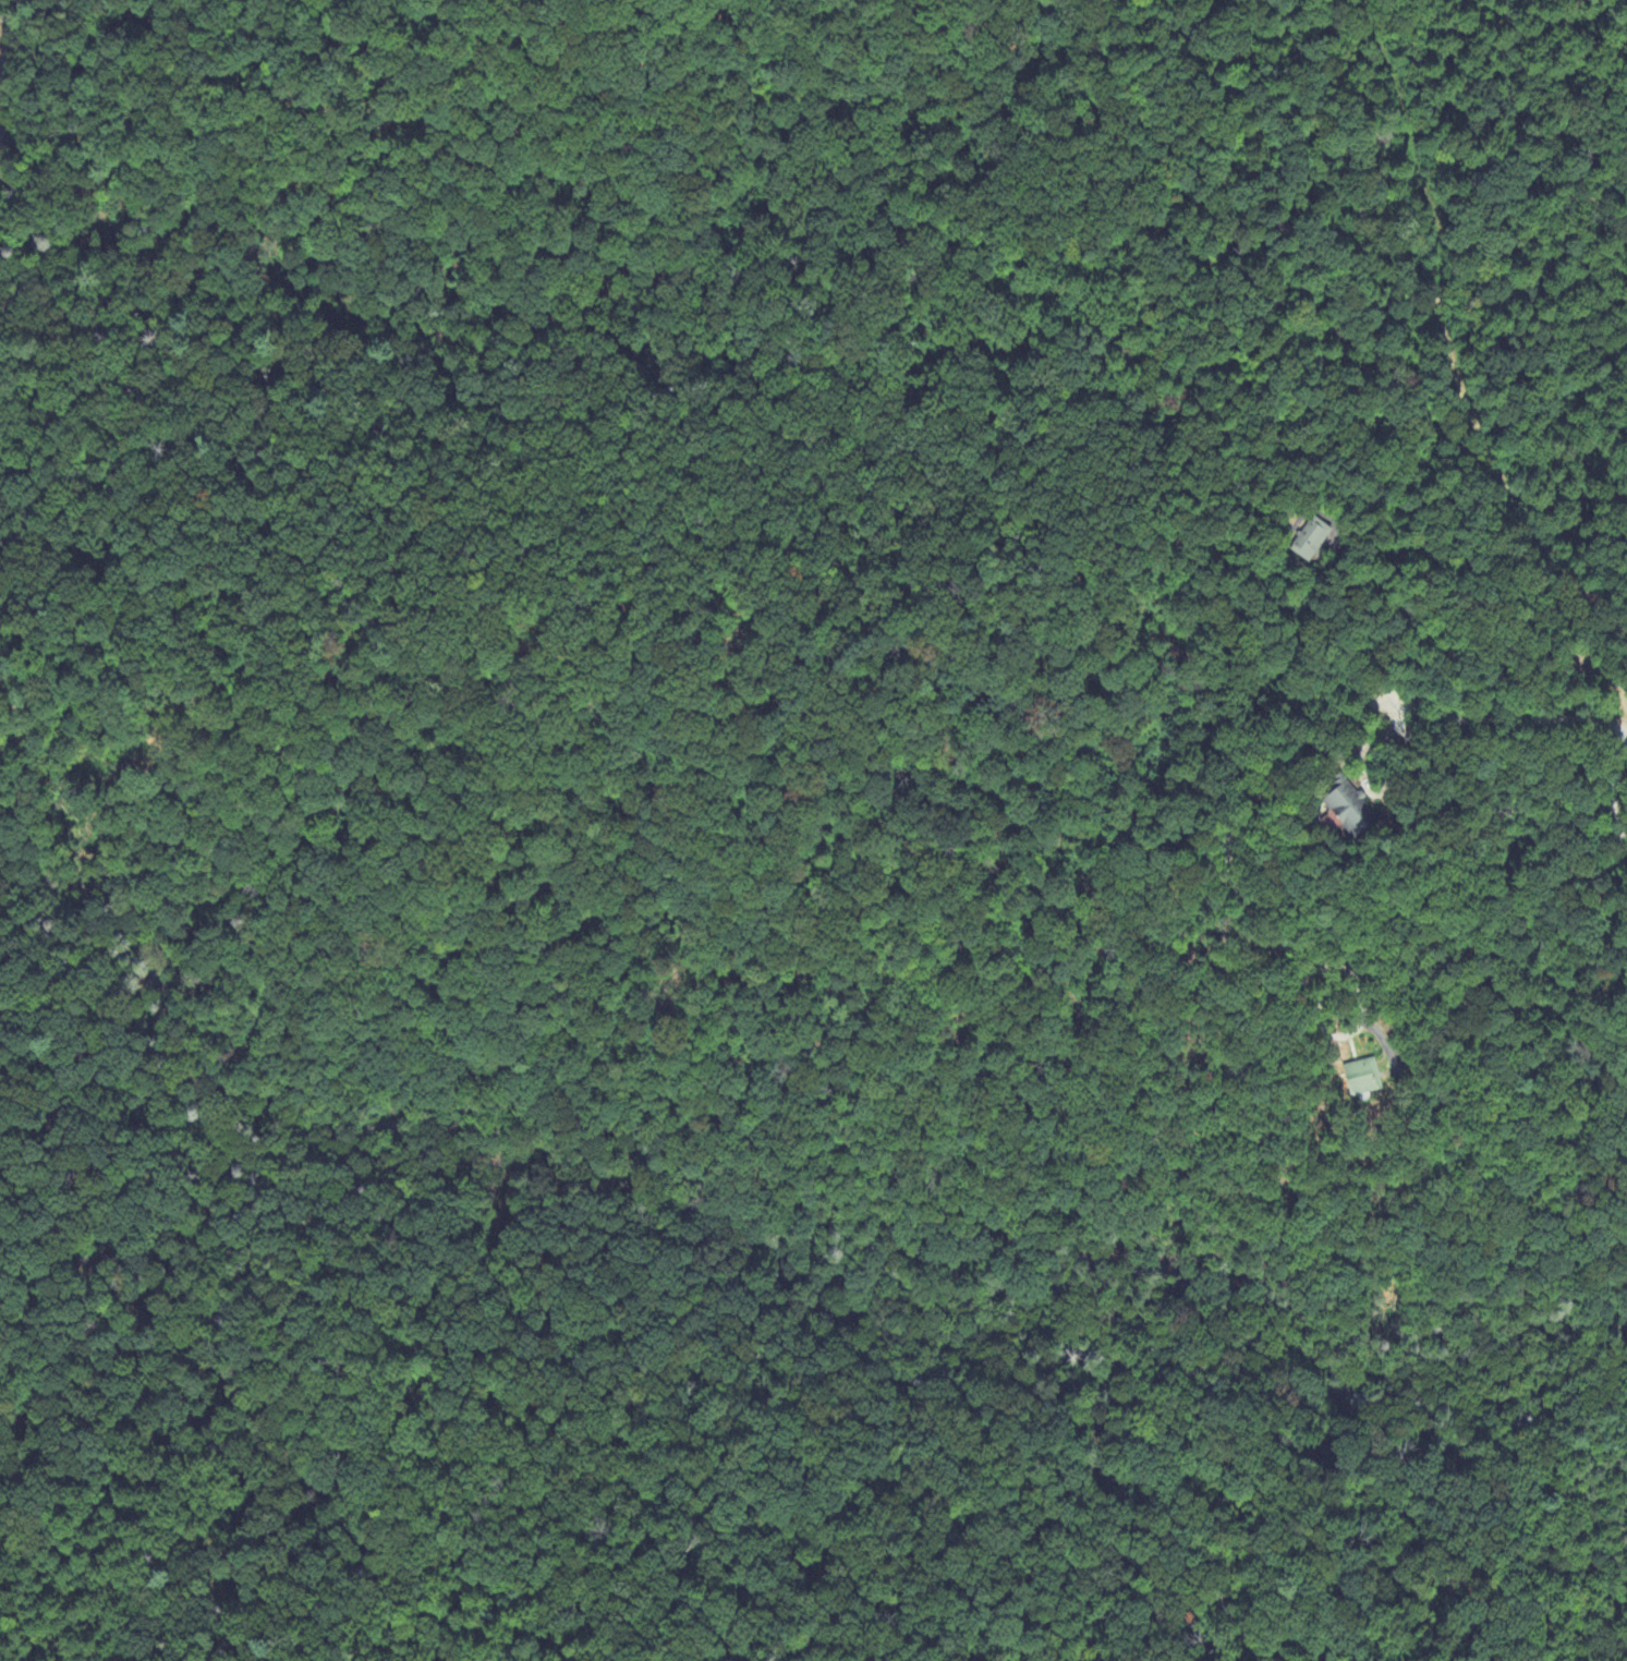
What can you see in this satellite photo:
road: (40, 129)
building: (1310, 542)
road: (1507, 720)
road: (1362, 779)
road: (1613, 796)
building: (1350, 812)
road: (1246, 908)
building: (1361, 1078)

